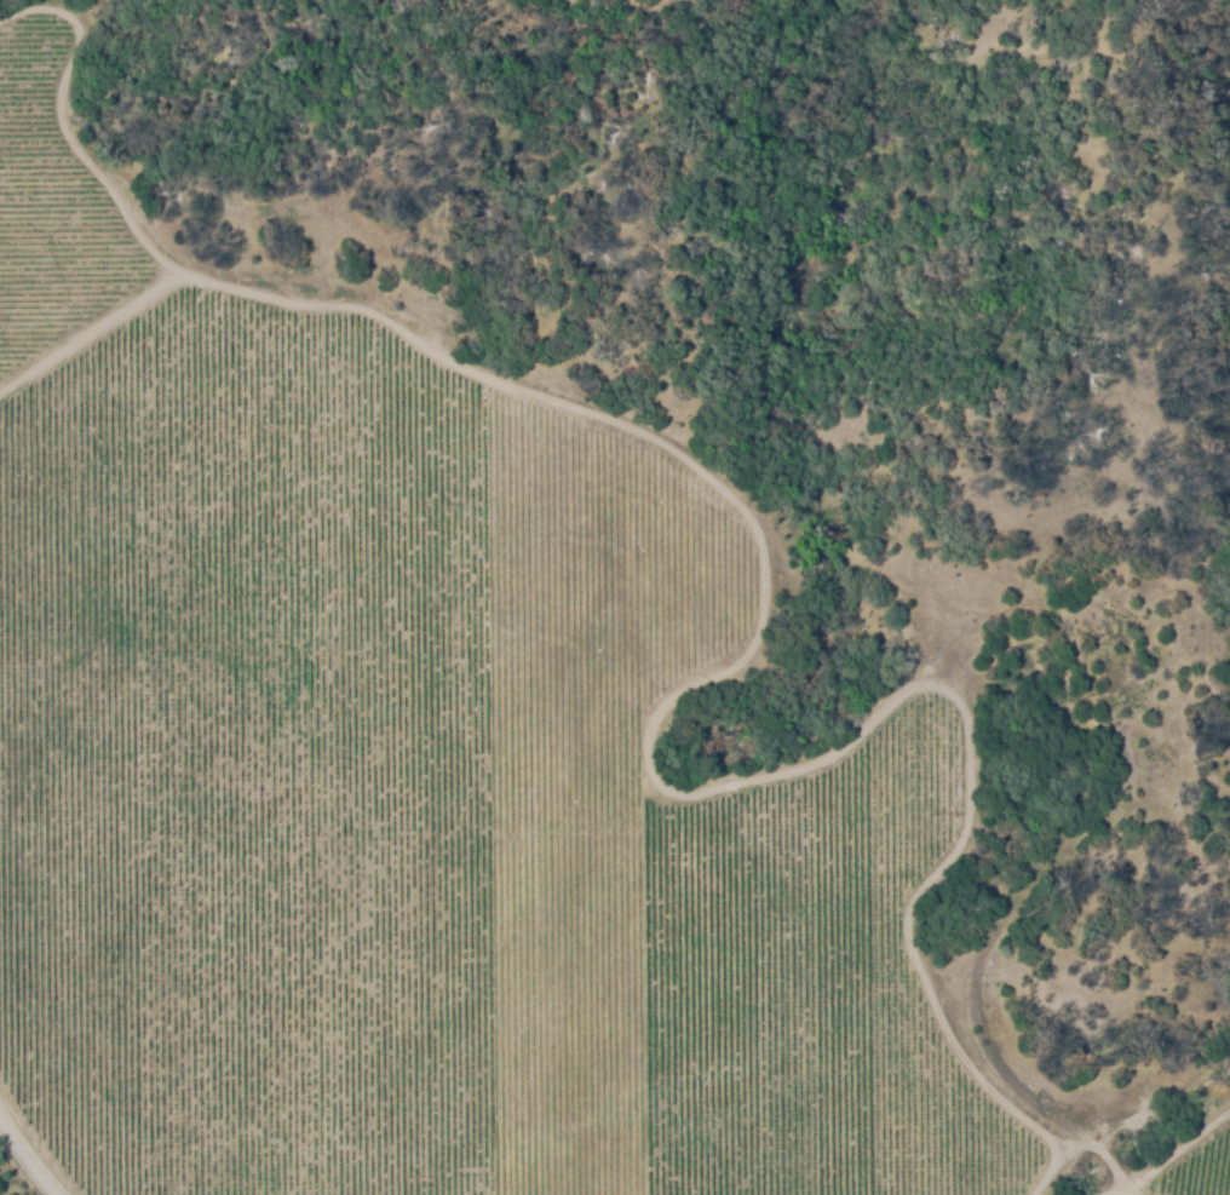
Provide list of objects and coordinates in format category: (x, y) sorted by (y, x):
road: (27, 1156)

